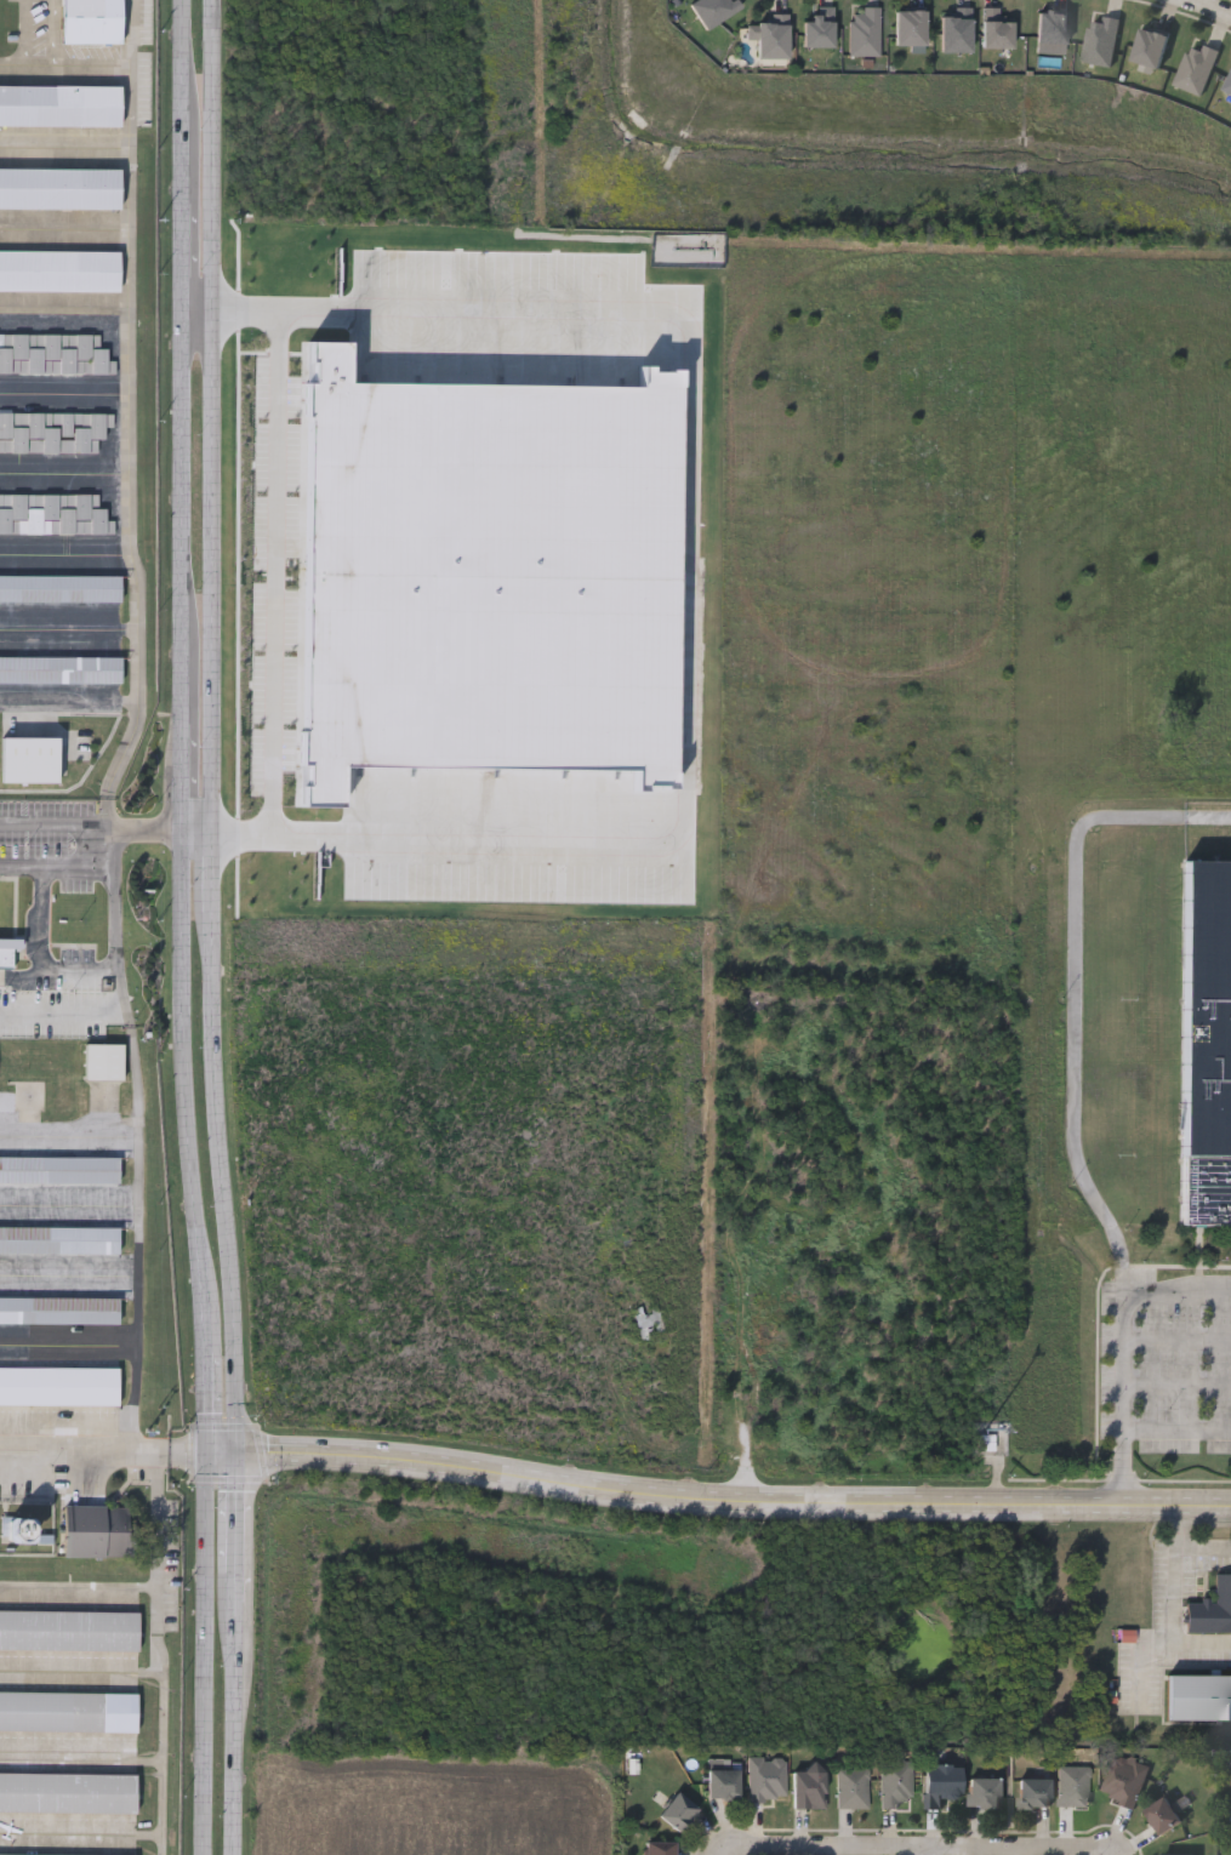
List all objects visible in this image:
road: (1203, 8)
building: (713, 10)
building: (90, 21)
building: (908, 27)
building: (1052, 27)
building: (819, 28)
building: (996, 29)
building: (956, 30)
building: (864, 33)
building: (770, 38)
building: (1100, 40)
building: (1150, 46)
building: (1196, 68)
road: (196, 75)
building: (1229, 85)
building: (59, 103)
building: (59, 185)
building: (58, 268)
building: (53, 352)
road: (129, 421)
building: (52, 429)
building: (52, 512)
road: (274, 546)
building: (59, 587)
road: (694, 615)
building: (61, 668)
road: (181, 675)
road: (209, 731)
building: (6, 823)
road: (103, 837)
airport: (82, 957)
road: (1076, 984)
road: (47, 1014)
building: (1206, 1040)
building: (102, 1061)
building: (27, 1095)
building: (58, 1169)
building: (58, 1239)
building: (58, 1309)
building: (651, 1320)
road: (1178, 1334)
road: (1124, 1340)
building: (58, 1385)
road: (1178, 1385)
road: (207, 1397)
road: (751, 1426)
road: (1176, 1429)
traffic signals: (236, 1442)
traffic signals: (207, 1444)
building: (988, 1444)
road: (109, 1445)
traffic signals: (235, 1462)
traffic signals: (207, 1463)
road: (717, 1491)
road: (741, 1502)
road: (717, 1508)
building: (95, 1531)
road: (235, 1531)
road: (1203, 1545)
road: (1174, 1598)
building: (1210, 1606)
building: (67, 1629)
road: (203, 1649)
road: (1142, 1657)
building: (1198, 1696)
building: (67, 1711)
road: (233, 1728)
building: (764, 1780)
building: (1122, 1780)
building: (722, 1785)
building: (894, 1785)
building: (941, 1785)
building: (1071, 1786)
building: (807, 1788)
building: (851, 1788)
building: (67, 1791)
building: (982, 1793)
building: (1032, 1793)
building: (676, 1813)
building: (1162, 1817)
building: (659, 1848)
road: (719, 1850)
road: (887, 1853)
building: (44, 1854)
building: (1178, 1854)

